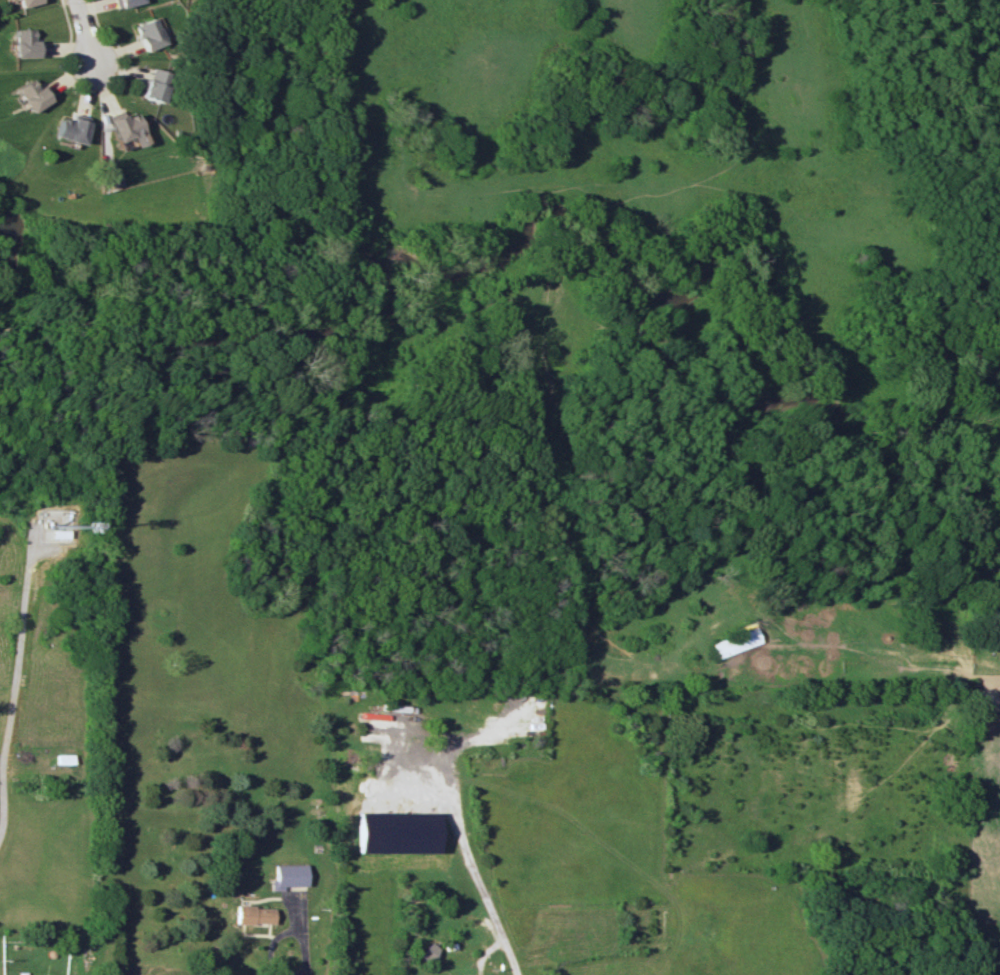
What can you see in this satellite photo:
building: (25, 2)
building: (123, 3)
road: (83, 32)
building: (145, 34)
building: (23, 43)
road: (116, 46)
road: (60, 60)
building: (150, 86)
building: (30, 95)
building: (120, 125)
building: (68, 129)
park: (186, 174)
river: (605, 248)
building: (735, 642)
road: (18, 658)
building: (394, 832)
road: (470, 858)
building: (287, 875)
building: (253, 914)
road: (281, 931)
building: (427, 951)

